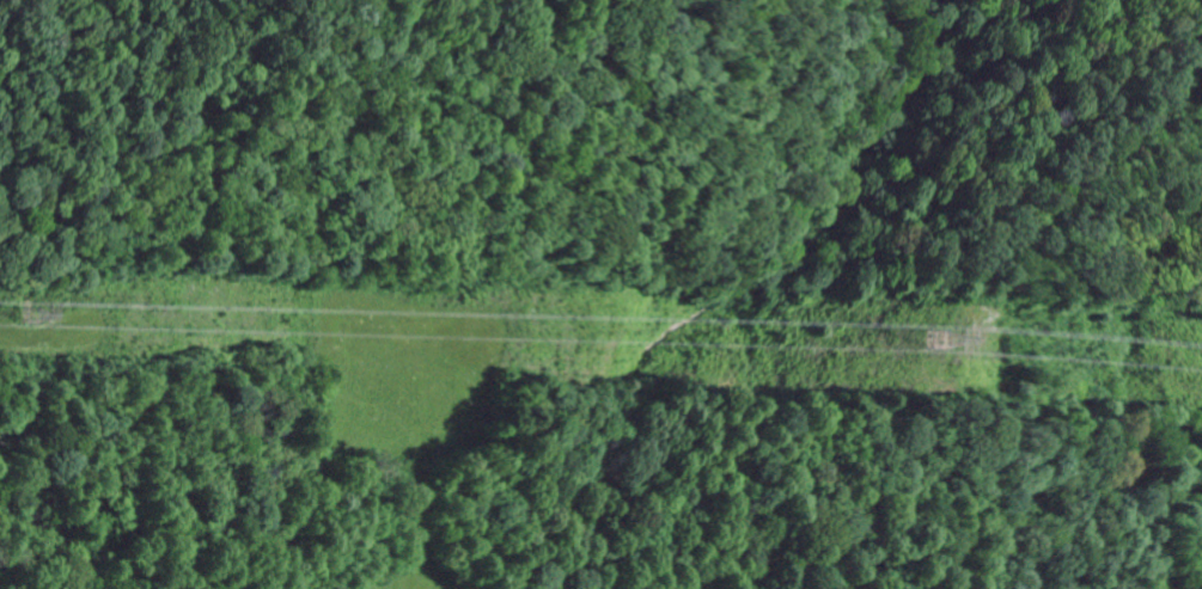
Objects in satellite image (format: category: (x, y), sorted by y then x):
power tower: (29, 314)
power tower: (927, 344)

